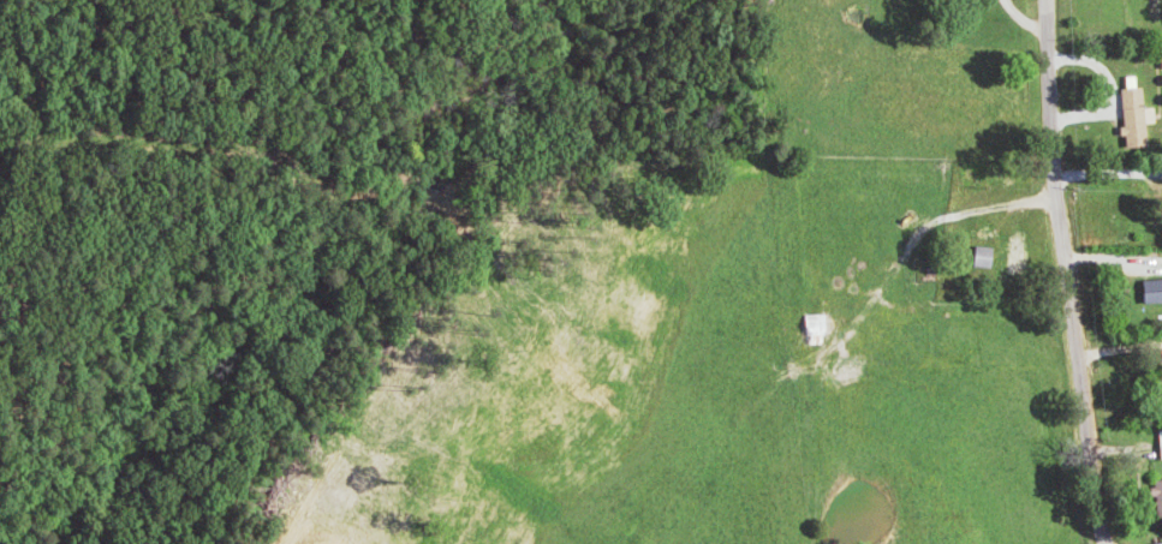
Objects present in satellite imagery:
building: (1139, 116)
road: (1031, 201)
building: (985, 256)
road: (1115, 256)
road: (1068, 273)
building: (1154, 289)
road: (1118, 345)
building: (1160, 494)
building: (1160, 543)

